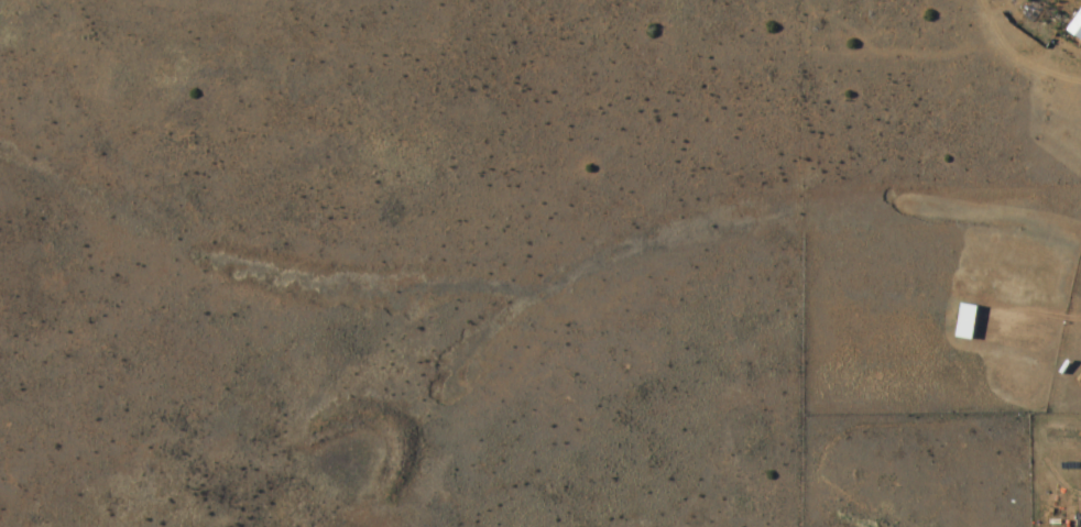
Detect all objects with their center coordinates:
building: (1077, 29)
building: (969, 323)

